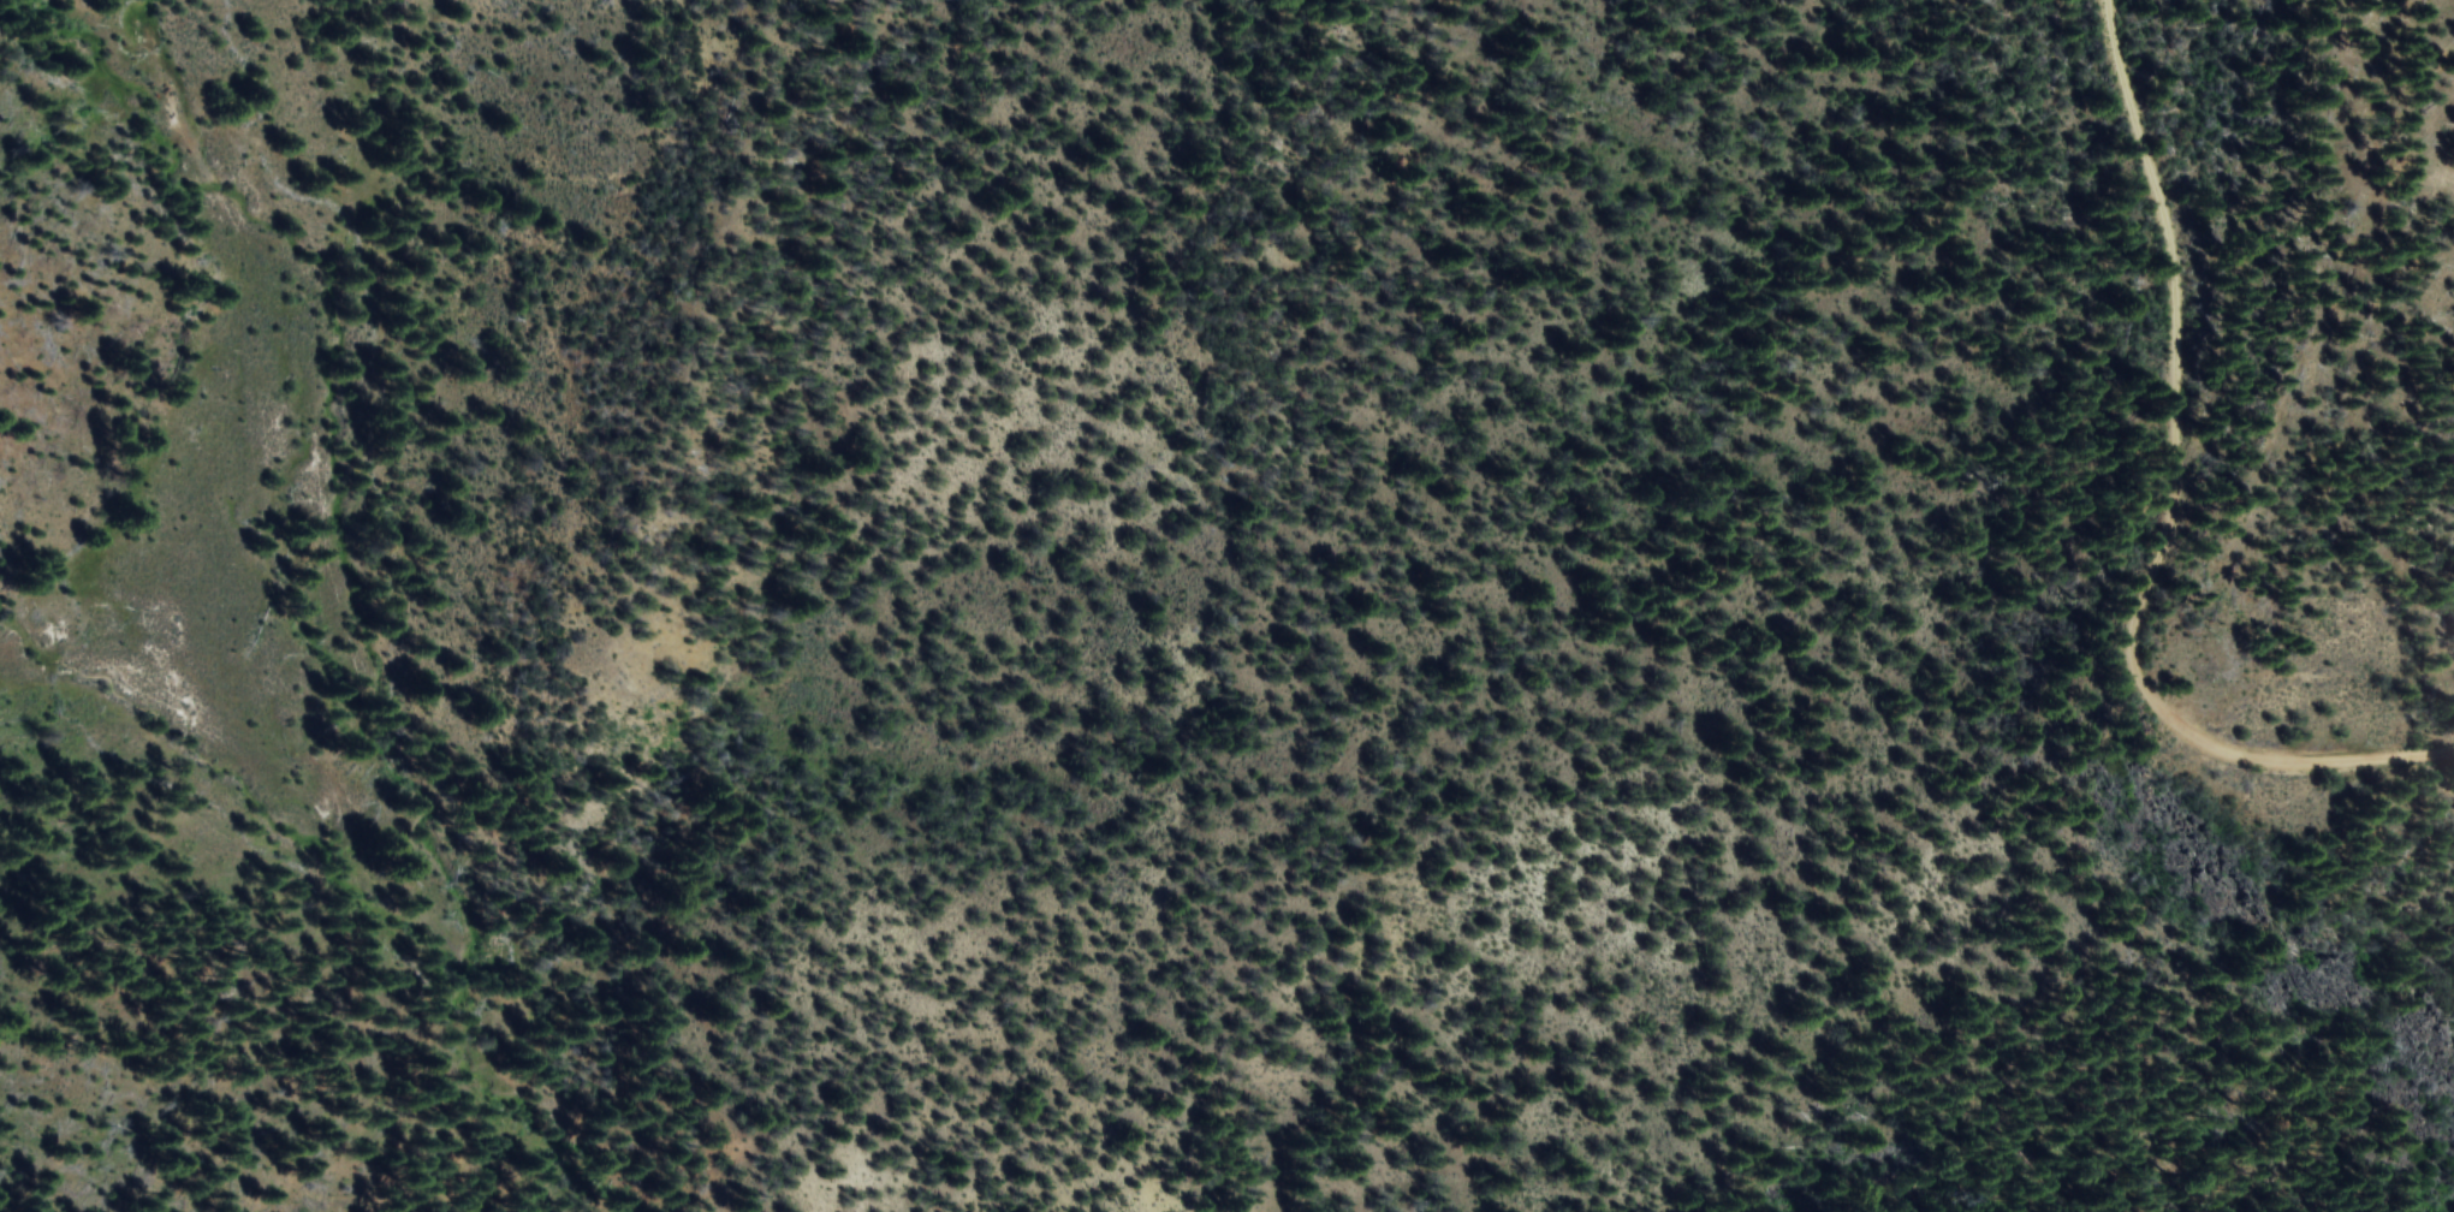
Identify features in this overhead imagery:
road: (2164, 517)

